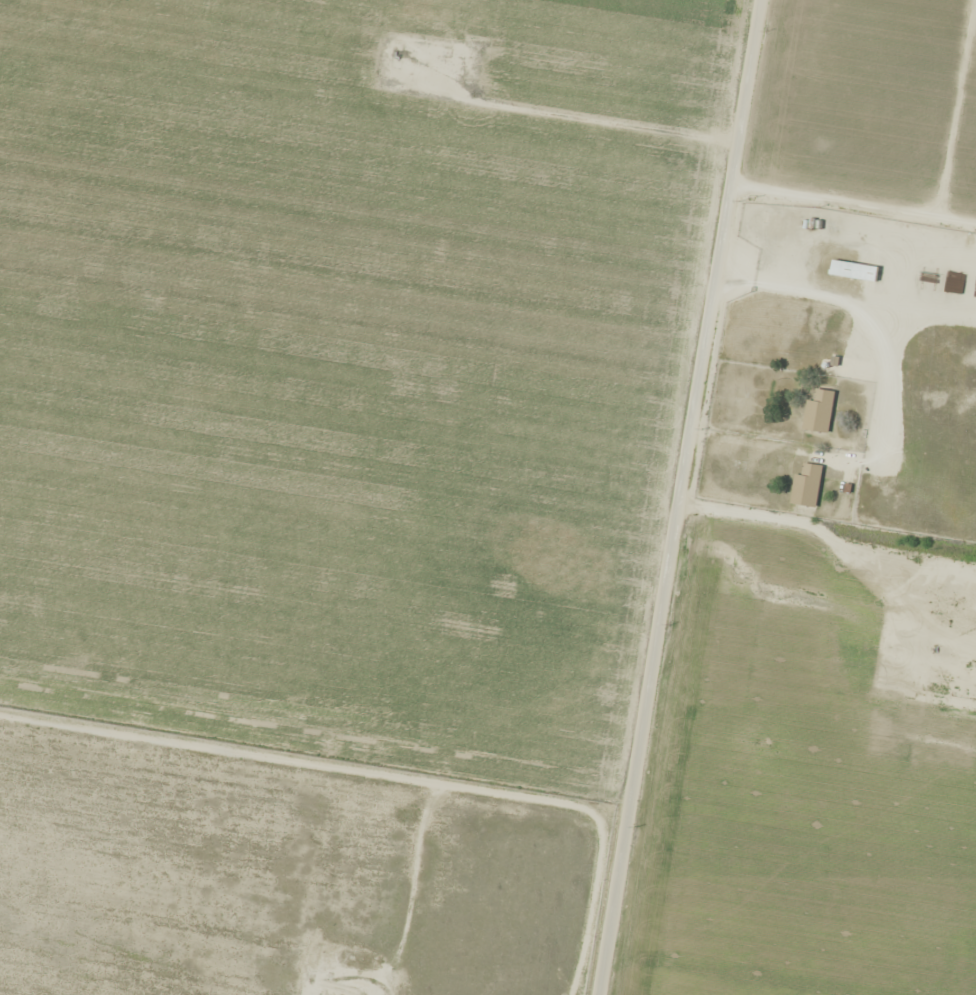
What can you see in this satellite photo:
road: (845, 205)
building: (855, 271)
building: (819, 411)
building: (807, 485)
road: (665, 497)
road: (308, 762)

